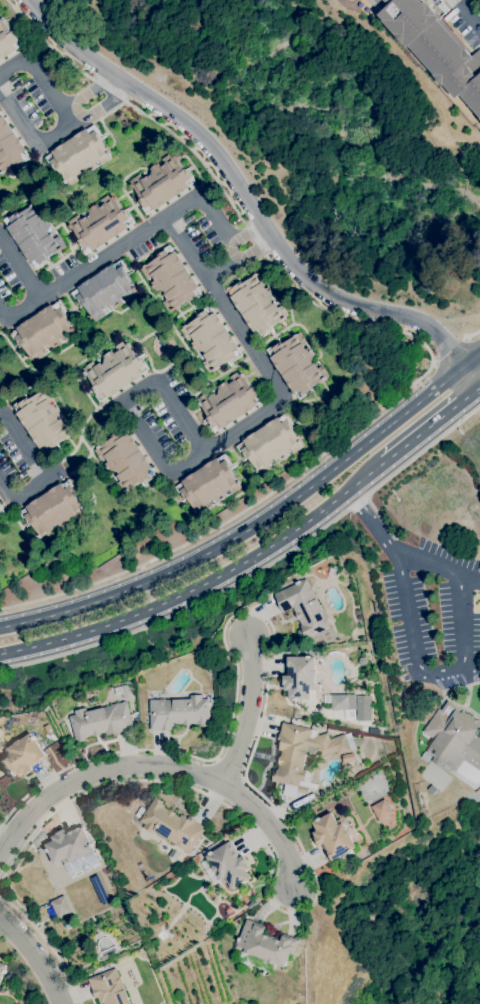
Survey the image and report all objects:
road: (468, 15)
building: (7, 39)
building: (435, 47)
road: (39, 80)
road: (85, 92)
road: (100, 108)
road: (30, 140)
building: (10, 147)
building: (78, 154)
building: (161, 183)
road: (251, 196)
road: (212, 211)
building: (100, 224)
building: (33, 234)
road: (191, 240)
road: (240, 250)
road: (106, 257)
road: (20, 271)
building: (171, 278)
building: (105, 290)
building: (256, 304)
road: (19, 318)
building: (43, 330)
road: (473, 332)
road: (412, 336)
building: (211, 339)
road: (449, 349)
building: (296, 364)
building: (114, 371)
building: (229, 401)
building: (43, 420)
road: (431, 423)
building: (270, 443)
road: (413, 459)
building: (124, 460)
road: (197, 463)
road: (44, 470)
building: (208, 484)
building: (0, 504)
building: (53, 509)
building: (1, 511)
road: (258, 523)
road: (373, 525)
road: (439, 569)
building: (334, 570)
road: (204, 582)
building: (303, 608)
road: (183, 611)
building: (299, 677)
road: (432, 677)
building: (126, 691)
building: (339, 701)
road: (250, 711)
building: (178, 712)
building: (101, 721)
building: (373, 731)
building: (455, 741)
building: (302, 752)
building: (21, 756)
building: (425, 756)
building: (348, 757)
building: (430, 765)
road: (163, 769)
road: (246, 773)
building: (382, 809)
building: (138, 814)
building: (171, 825)
building: (332, 836)
building: (205, 844)
building: (73, 849)
building: (229, 865)
building: (255, 902)
building: (60, 906)
road: (46, 943)
building: (263, 947)
road: (35, 955)
building: (2, 969)
building: (108, 988)

